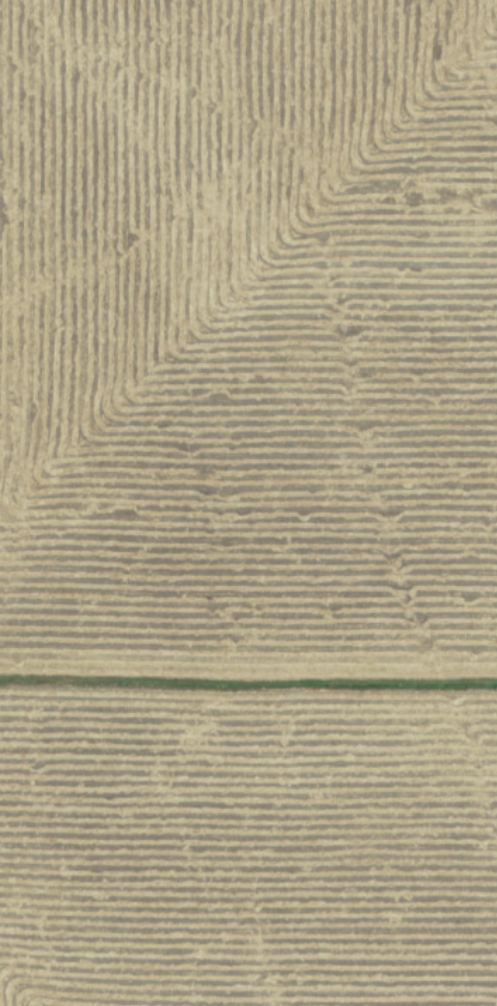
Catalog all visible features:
crop: (248, 503)

